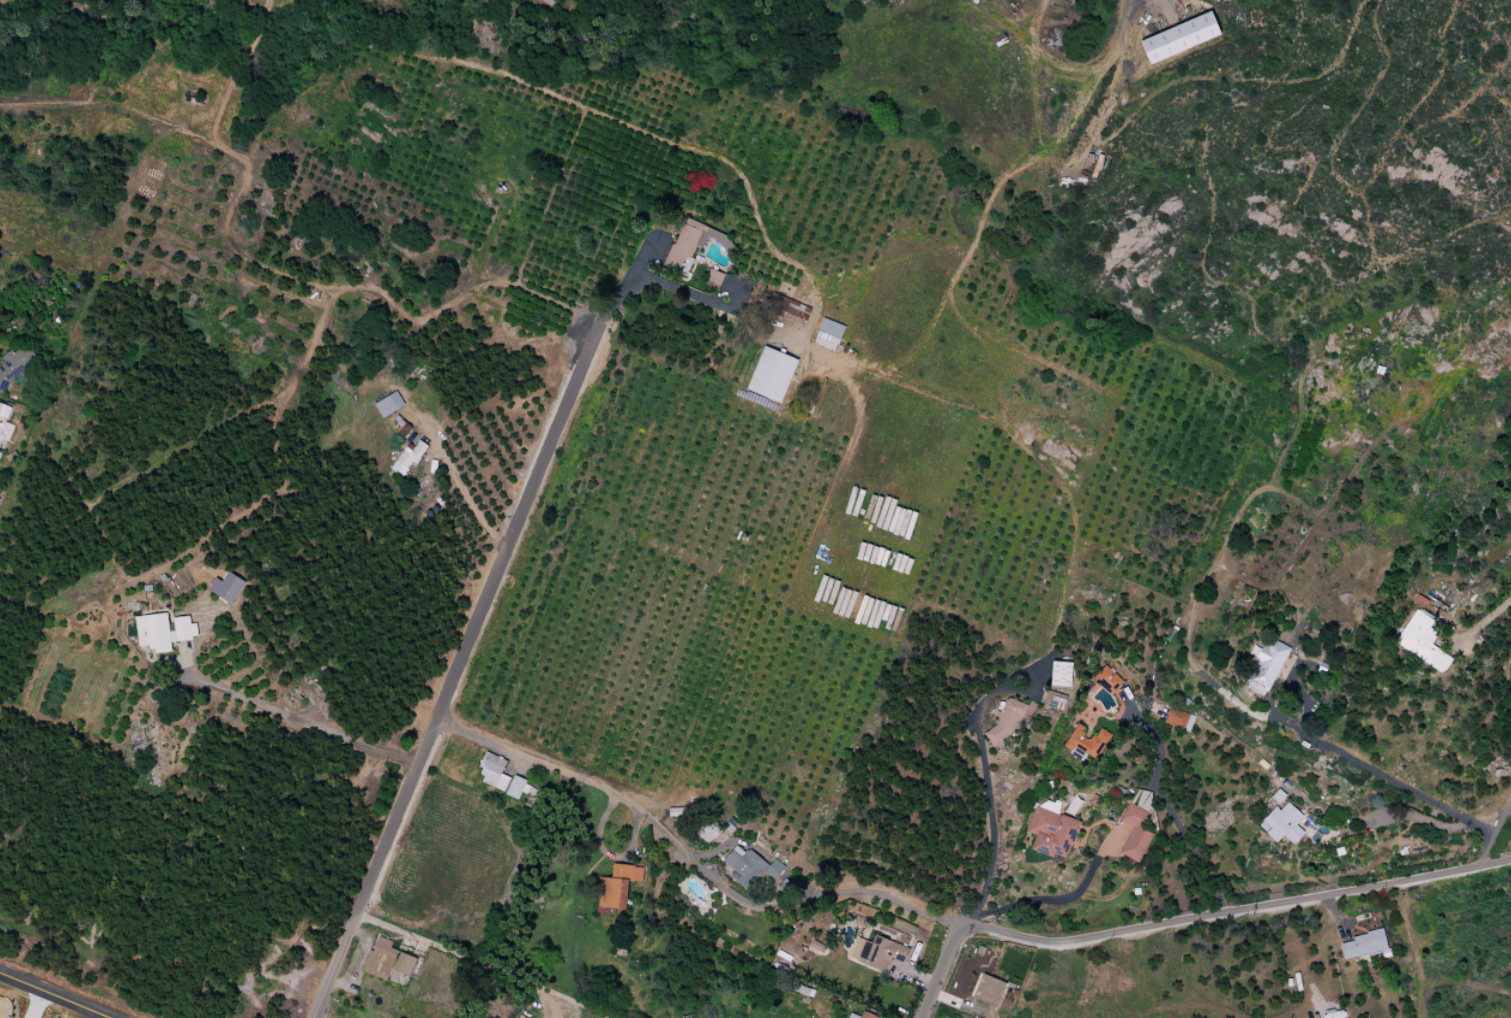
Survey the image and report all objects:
building: (1180, 38)
road: (460, 62)
building: (684, 245)
road: (629, 276)
building: (715, 279)
road: (691, 296)
building: (793, 312)
building: (829, 334)
building: (13, 366)
building: (772, 375)
building: (390, 404)
building: (3, 422)
building: (404, 428)
building: (0, 458)
building: (411, 458)
road: (460, 484)
building: (226, 587)
road: (1487, 618)
building: (165, 633)
building: (1420, 635)
road: (457, 666)
building: (1267, 667)
building: (1060, 674)
building: (1109, 680)
road: (297, 720)
building: (1178, 720)
building: (1007, 721)
building: (1086, 743)
building: (496, 774)
road: (1385, 775)
building: (520, 788)
road: (1172, 813)
road: (1400, 815)
building: (1287, 823)
road: (1496, 831)
building: (707, 832)
building: (1053, 833)
building: (1137, 834)
road: (691, 856)
building: (750, 865)
road: (989, 880)
building: (618, 887)
road: (1064, 899)
road: (1237, 907)
building: (1365, 944)
building: (884, 954)
building: (380, 960)
building: (405, 965)
road: (485, 965)
building: (988, 990)
road: (52, 996)
road: (40, 1005)
building: (866, 1015)

